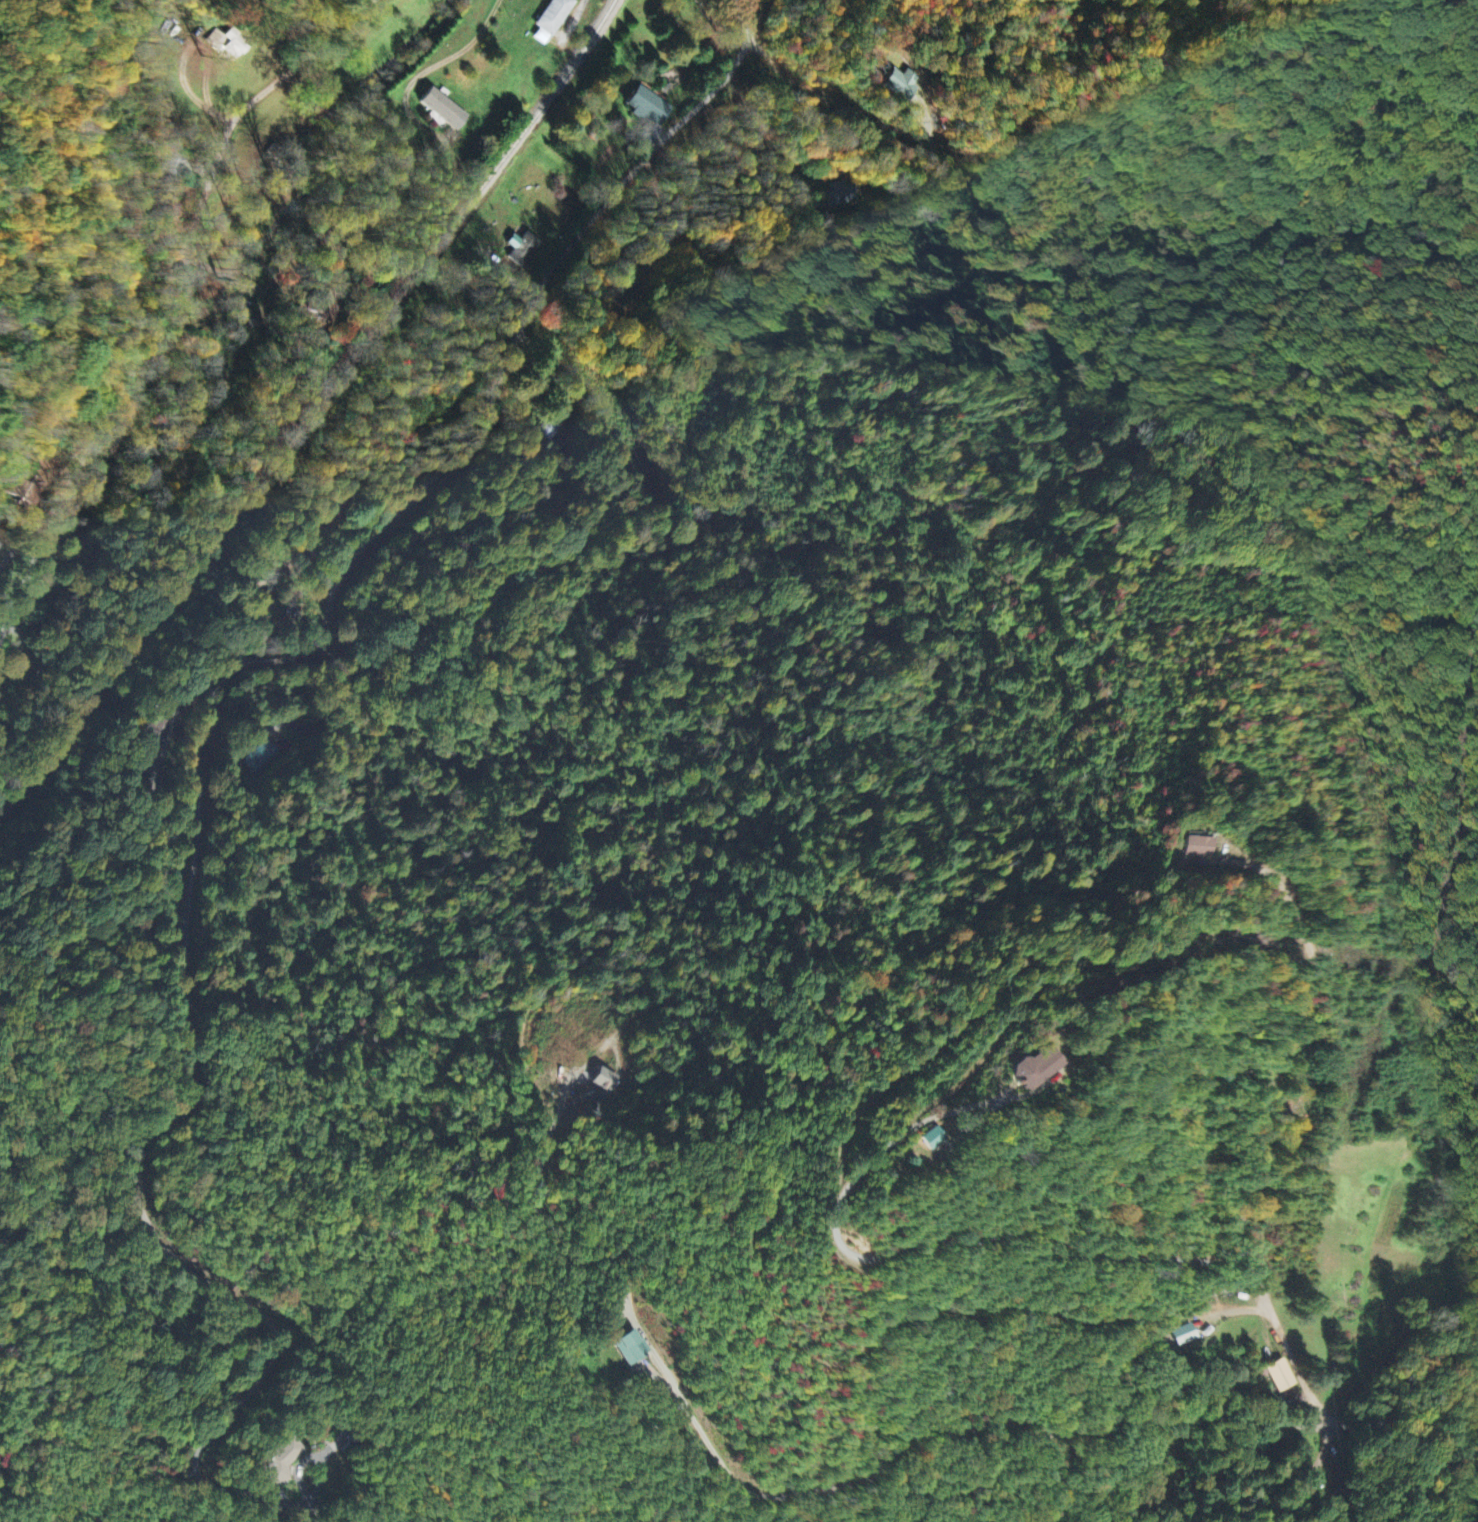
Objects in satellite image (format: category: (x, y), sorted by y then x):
building: (551, 20)
building: (901, 85)
building: (646, 108)
building: (442, 110)
road: (880, 128)
building: (525, 251)
road: (167, 302)
road: (489, 403)
railway: (310, 408)
building: (263, 758)
building: (1198, 847)
building: (1027, 1067)
building: (604, 1081)
building: (927, 1138)
road: (137, 1207)
building: (628, 1348)
building: (1277, 1376)
road: (1325, 1413)
building: (279, 1461)
road: (1460, 1512)

